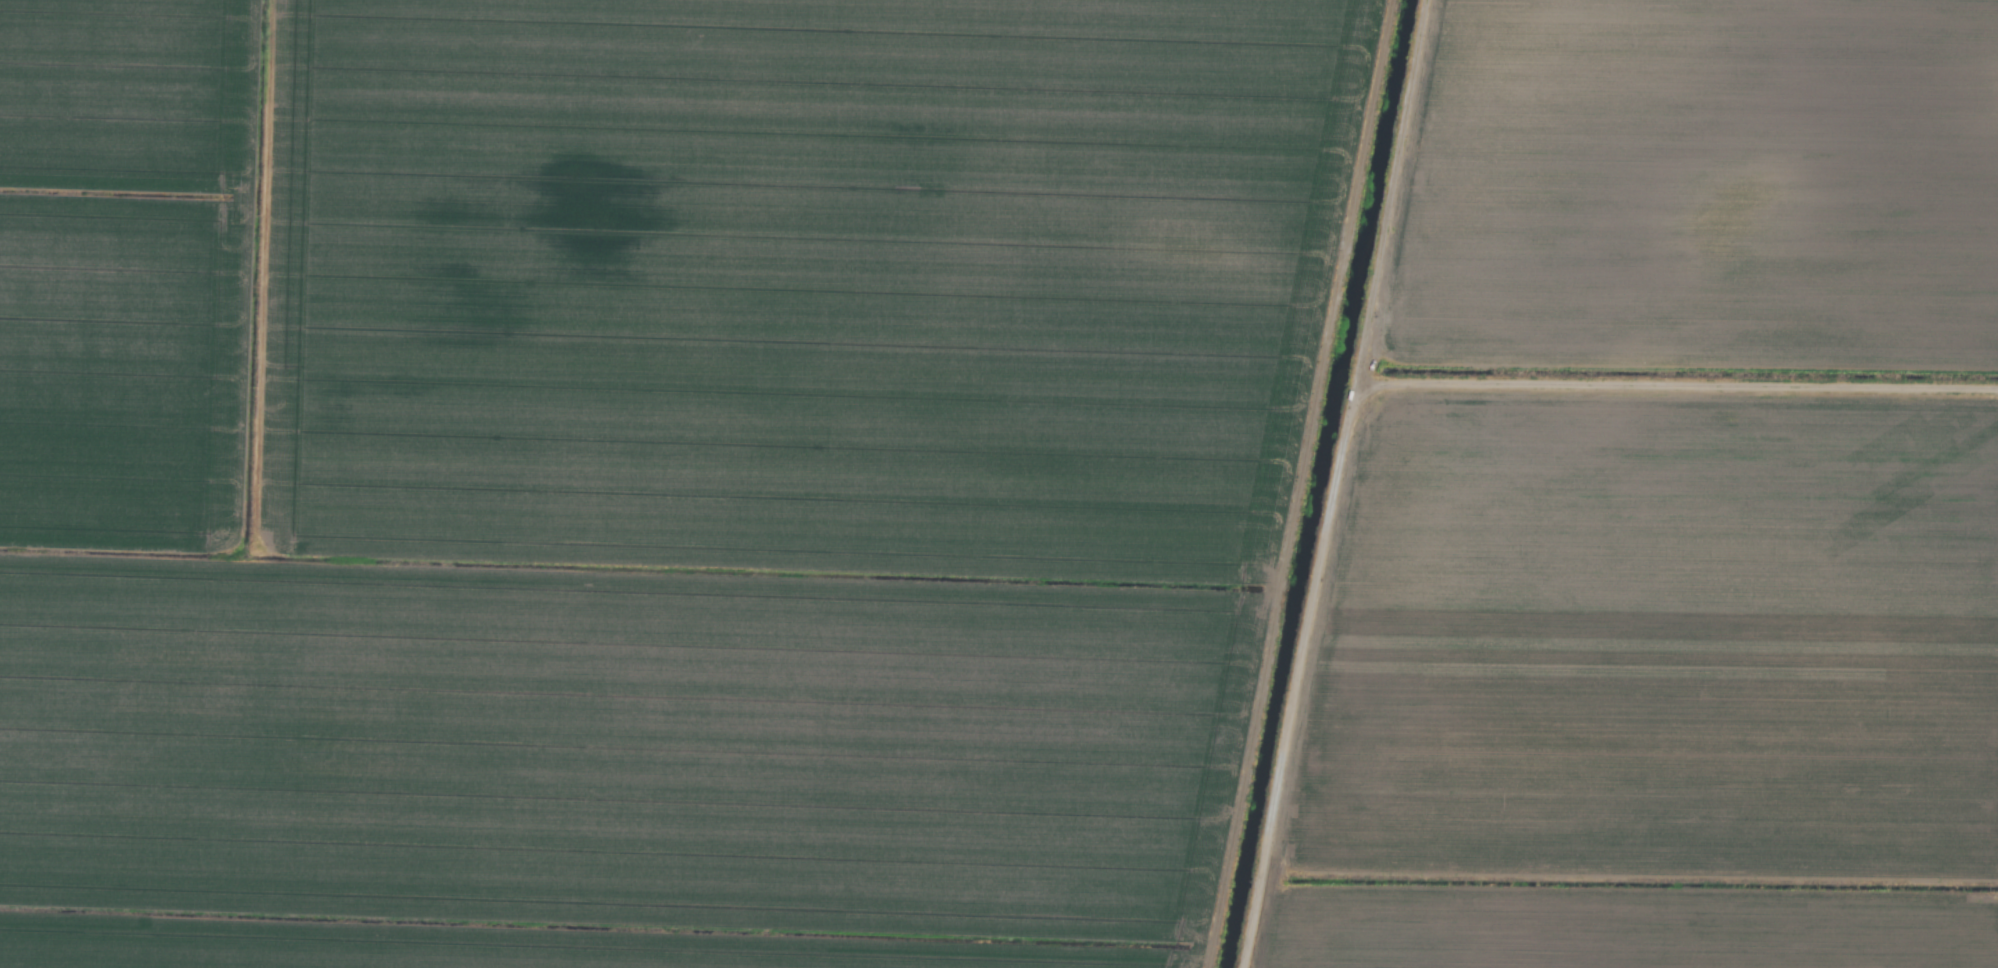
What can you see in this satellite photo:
crop: (999, 484)

